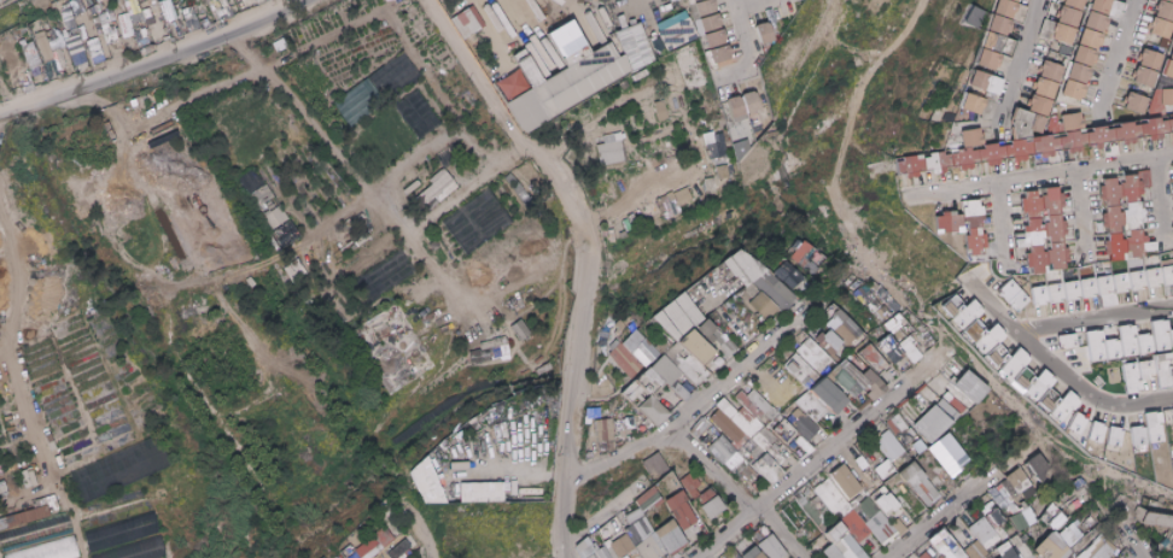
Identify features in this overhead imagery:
park: (1110, 378)

